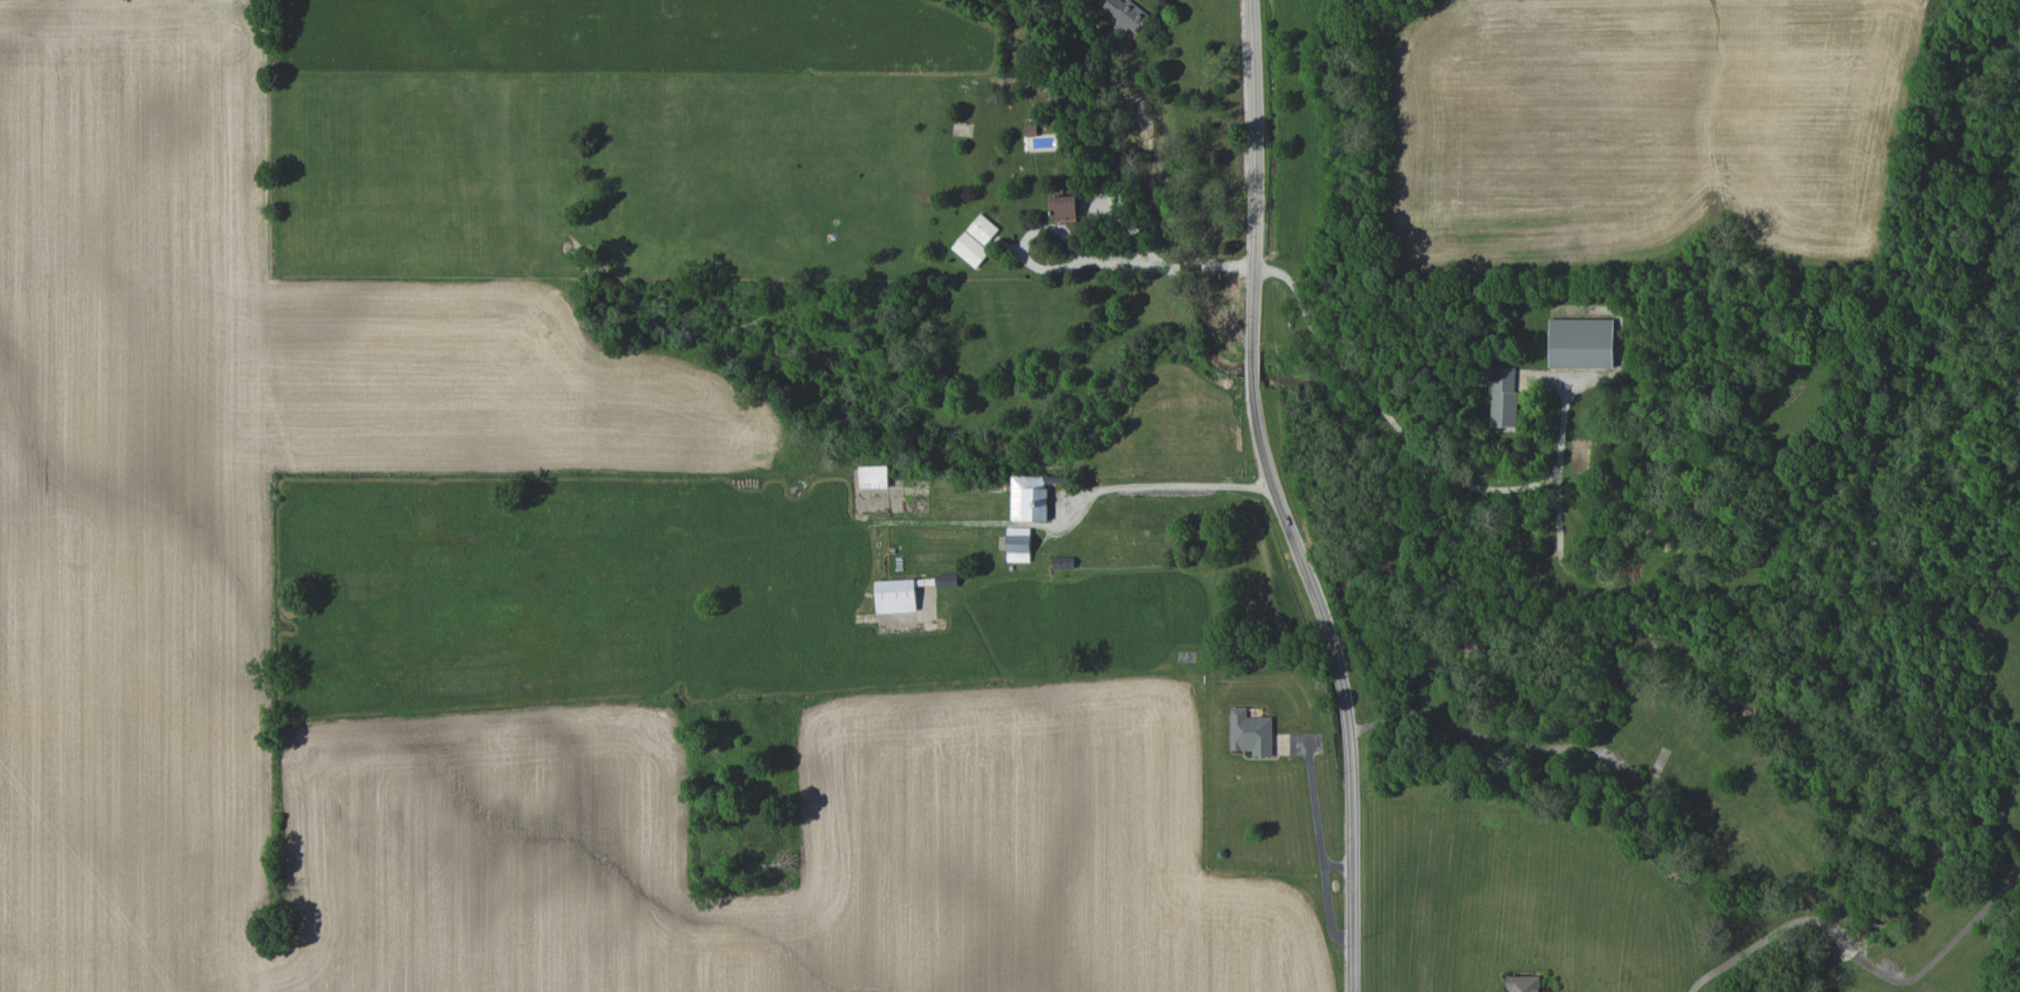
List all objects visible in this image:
building: (1125, 13)
building: (1064, 207)
building: (982, 229)
building: (970, 249)
road: (1086, 261)
building: (1581, 342)
building: (1504, 397)
road: (423, 462)
building: (873, 477)
road: (1460, 478)
building: (1029, 498)
road: (1278, 499)
building: (1018, 544)
building: (1065, 562)
building: (946, 580)
building: (898, 594)
building: (1250, 732)
building: (1633, 776)
road: (1316, 819)
road: (1328, 907)
building: (1523, 984)

